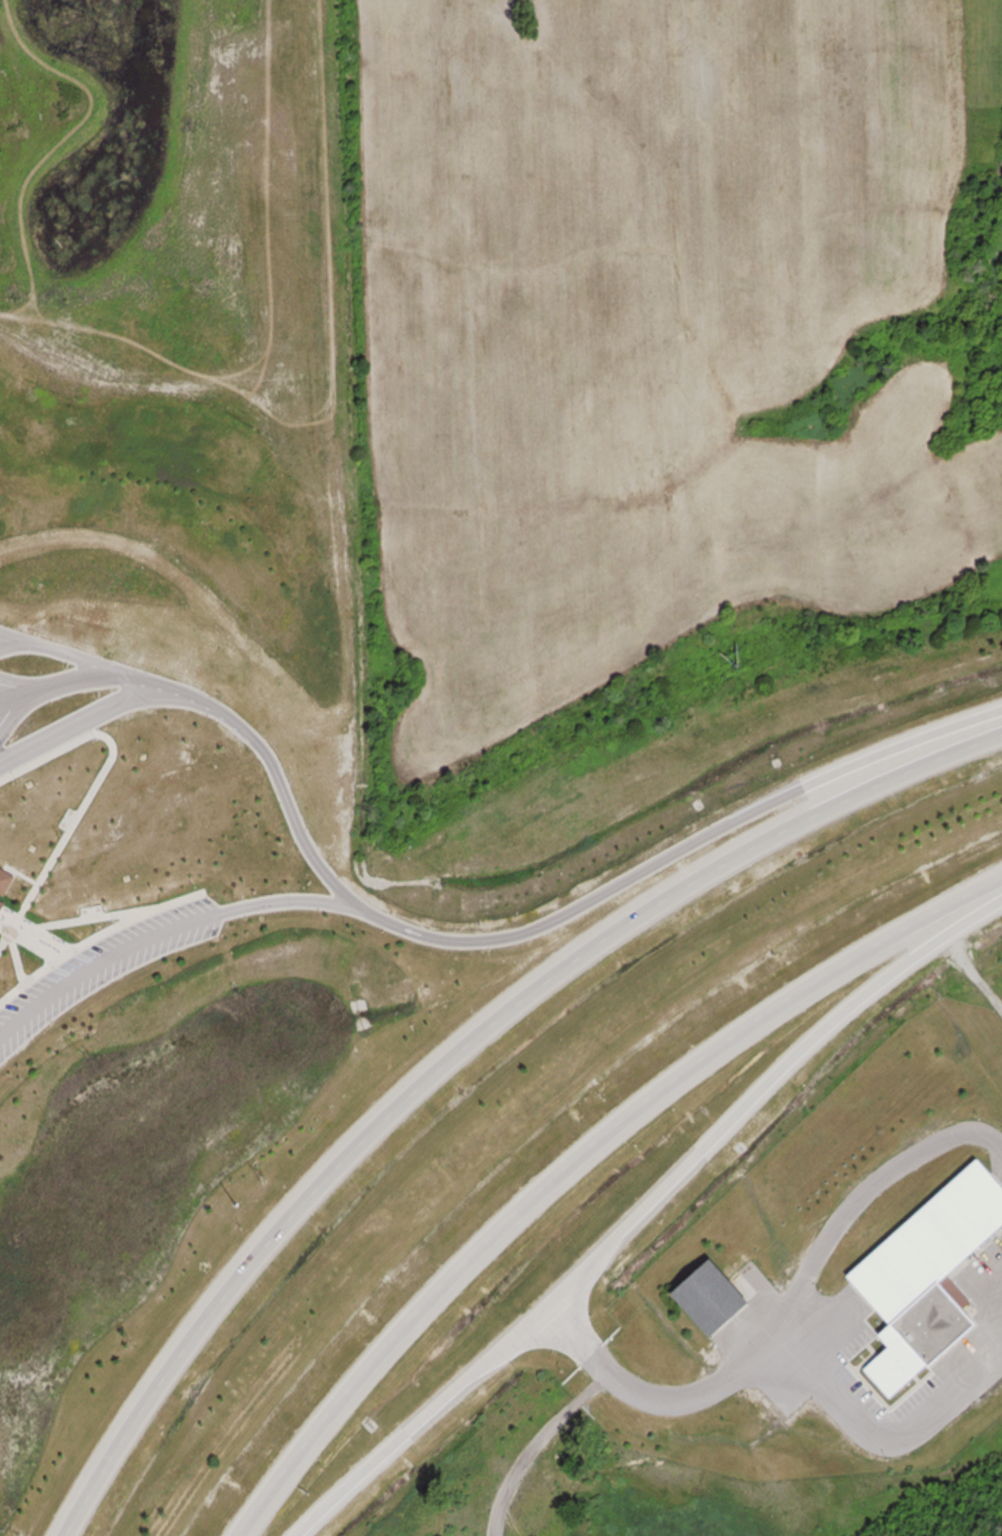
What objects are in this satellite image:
road: (11, 637)
road: (56, 652)
road: (224, 717)
parking lot: (3, 718)
road: (81, 720)
road: (93, 792)
road: (679, 854)
building: (5, 873)
building: (1, 895)
road: (88, 919)
road: (33, 932)
road: (165, 935)
road: (95, 938)
road: (15, 957)
parking lot: (104, 970)
road: (459, 1048)
road: (573, 1154)
road: (647, 1210)
building: (931, 1279)
building: (715, 1299)
road: (657, 1395)

